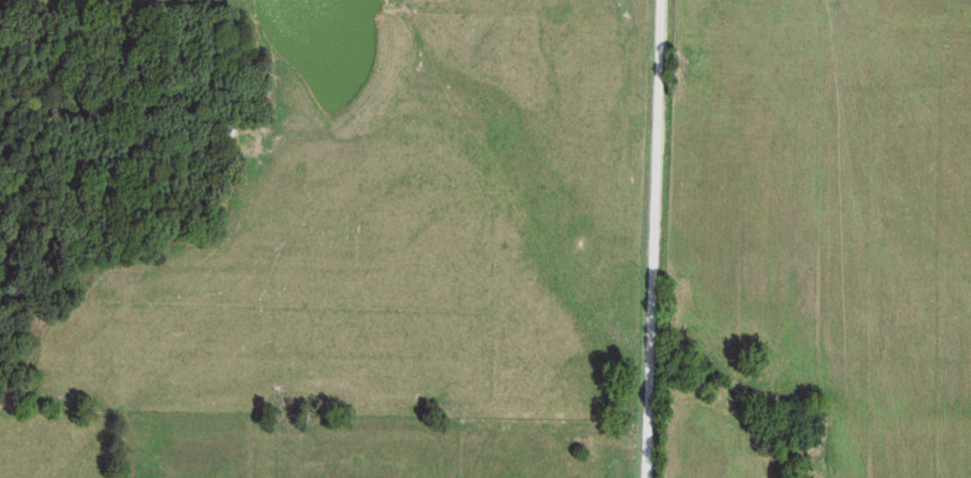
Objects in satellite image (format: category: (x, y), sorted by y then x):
road: (653, 238)

